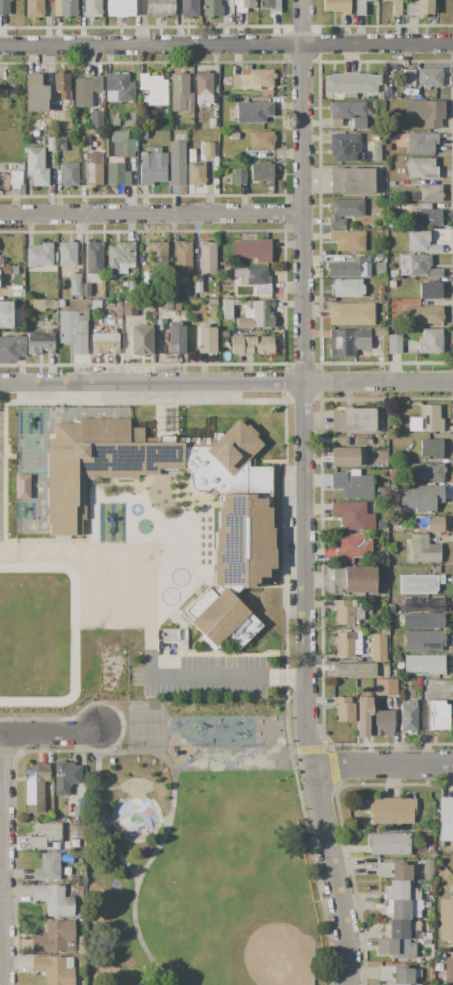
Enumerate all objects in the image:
building: (384, 0)
building: (243, 5)
building: (269, 5)
building: (337, 6)
building: (4, 7)
building: (360, 7)
building: (396, 7)
building: (68, 8)
building: (160, 8)
building: (189, 8)
building: (34, 9)
building: (92, 9)
building: (120, 9)
building: (212, 9)
building: (420, 9)
road: (226, 44)
building: (429, 77)
building: (409, 78)
building: (252, 79)
building: (351, 84)
building: (62, 85)
building: (118, 88)
building: (204, 88)
building: (152, 90)
building: (86, 91)
building: (35, 94)
building: (181, 94)
building: (381, 96)
building: (164, 112)
building: (253, 112)
building: (425, 112)
building: (348, 113)
building: (63, 120)
building: (96, 120)
building: (115, 123)
building: (164, 124)
building: (142, 134)
building: (234, 136)
building: (261, 140)
building: (421, 142)
building: (51, 144)
building: (62, 144)
building: (106, 145)
building: (123, 146)
building: (343, 147)
building: (388, 149)
building: (208, 150)
building: (377, 153)
building: (177, 163)
building: (12, 166)
building: (36, 166)
building: (152, 166)
building: (421, 168)
building: (93, 169)
building: (195, 170)
building: (262, 172)
building: (69, 174)
building: (117, 175)
building: (239, 177)
building: (15, 181)
building: (352, 181)
building: (428, 194)
building: (344, 211)
road: (154, 216)
building: (401, 217)
building: (348, 240)
building: (422, 243)
building: (252, 250)
building: (67, 253)
building: (158, 254)
building: (39, 255)
building: (121, 257)
building: (182, 257)
building: (207, 257)
building: (378, 257)
building: (94, 258)
building: (1, 262)
building: (221, 264)
building: (417, 266)
building: (349, 268)
building: (380, 268)
building: (10, 271)
building: (393, 274)
building: (253, 279)
building: (124, 284)
building: (391, 284)
building: (198, 285)
building: (75, 286)
building: (131, 286)
building: (347, 288)
building: (86, 290)
building: (380, 290)
building: (430, 290)
building: (381, 299)
building: (61, 303)
building: (212, 303)
building: (96, 304)
building: (113, 304)
building: (172, 304)
building: (43, 305)
building: (129, 309)
building: (250, 314)
building: (351, 314)
building: (6, 315)
building: (424, 316)
building: (393, 317)
building: (74, 330)
building: (379, 331)
building: (222, 336)
building: (176, 339)
building: (207, 339)
building: (141, 340)
building: (349, 341)
building: (431, 341)
building: (41, 342)
building: (105, 342)
building: (394, 344)
building: (251, 345)
building: (11, 349)
road: (308, 383)
road: (226, 384)
building: (353, 420)
building: (426, 420)
building: (339, 441)
building: (431, 448)
building: (344, 457)
building: (426, 472)
building: (351, 484)
building: (22, 486)
building: (381, 490)
building: (421, 498)
building: (245, 505)
building: (353, 516)
building: (429, 525)
building: (382, 526)
building: (351, 548)
building: (422, 549)
building: (378, 559)
building: (354, 581)
building: (419, 584)
building: (424, 605)
building: (345, 612)
building: (223, 618)
building: (423, 621)
building: (171, 640)
building: (423, 641)
building: (344, 644)
building: (378, 647)
building: (363, 655)
building: (424, 664)
building: (354, 670)
road: (223, 676)
building: (386, 688)
building: (344, 710)
building: (439, 715)
building: (363, 716)
building: (408, 716)
building: (384, 723)
road: (51, 734)
road: (102, 748)
road: (131, 752)
road: (383, 765)
building: (66, 777)
building: (34, 786)
building: (392, 810)
building: (79, 812)
building: (445, 819)
building: (44, 834)
building: (390, 844)
park: (207, 853)
road: (3, 860)
building: (47, 868)
building: (428, 869)
building: (394, 871)
road: (333, 875)
building: (401, 891)
building: (54, 900)
building: (427, 905)
building: (404, 909)
building: (446, 920)
building: (405, 930)
road: (138, 932)
building: (54, 938)
building: (424, 942)
building: (396, 948)
building: (440, 957)
building: (427, 966)
building: (54, 969)
building: (448, 972)
building: (398, 975)

